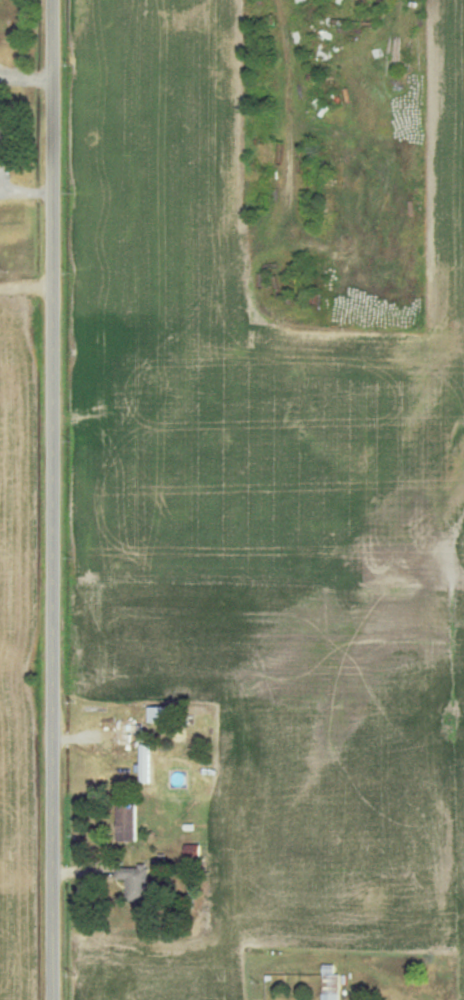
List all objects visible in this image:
road: (289, 139)
building: (2, 153)
road: (28, 289)
road: (55, 500)
building: (129, 734)
building: (146, 764)
building: (128, 823)
building: (137, 884)
building: (332, 983)

